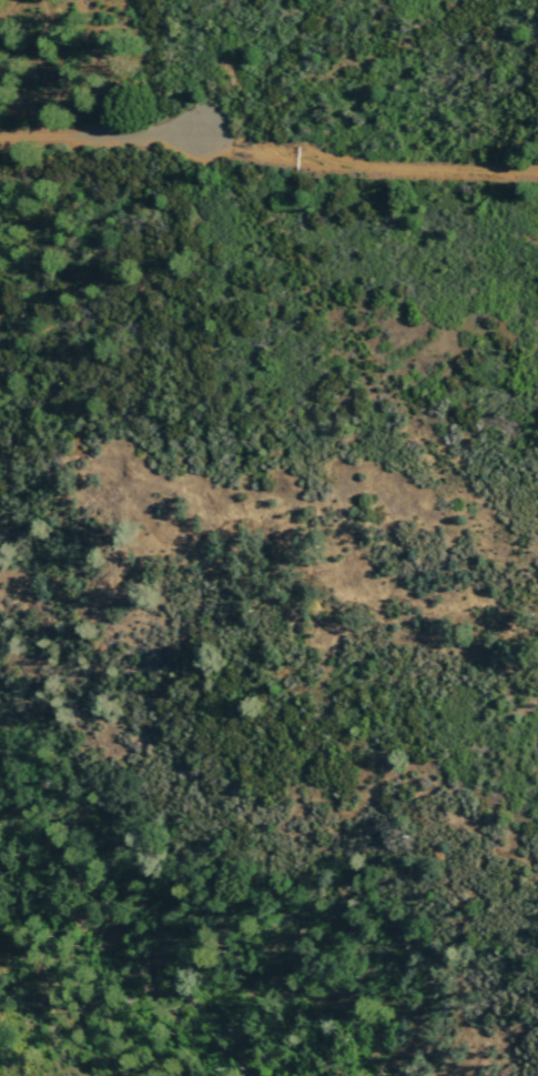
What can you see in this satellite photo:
road: (101, 138)
road: (368, 168)

